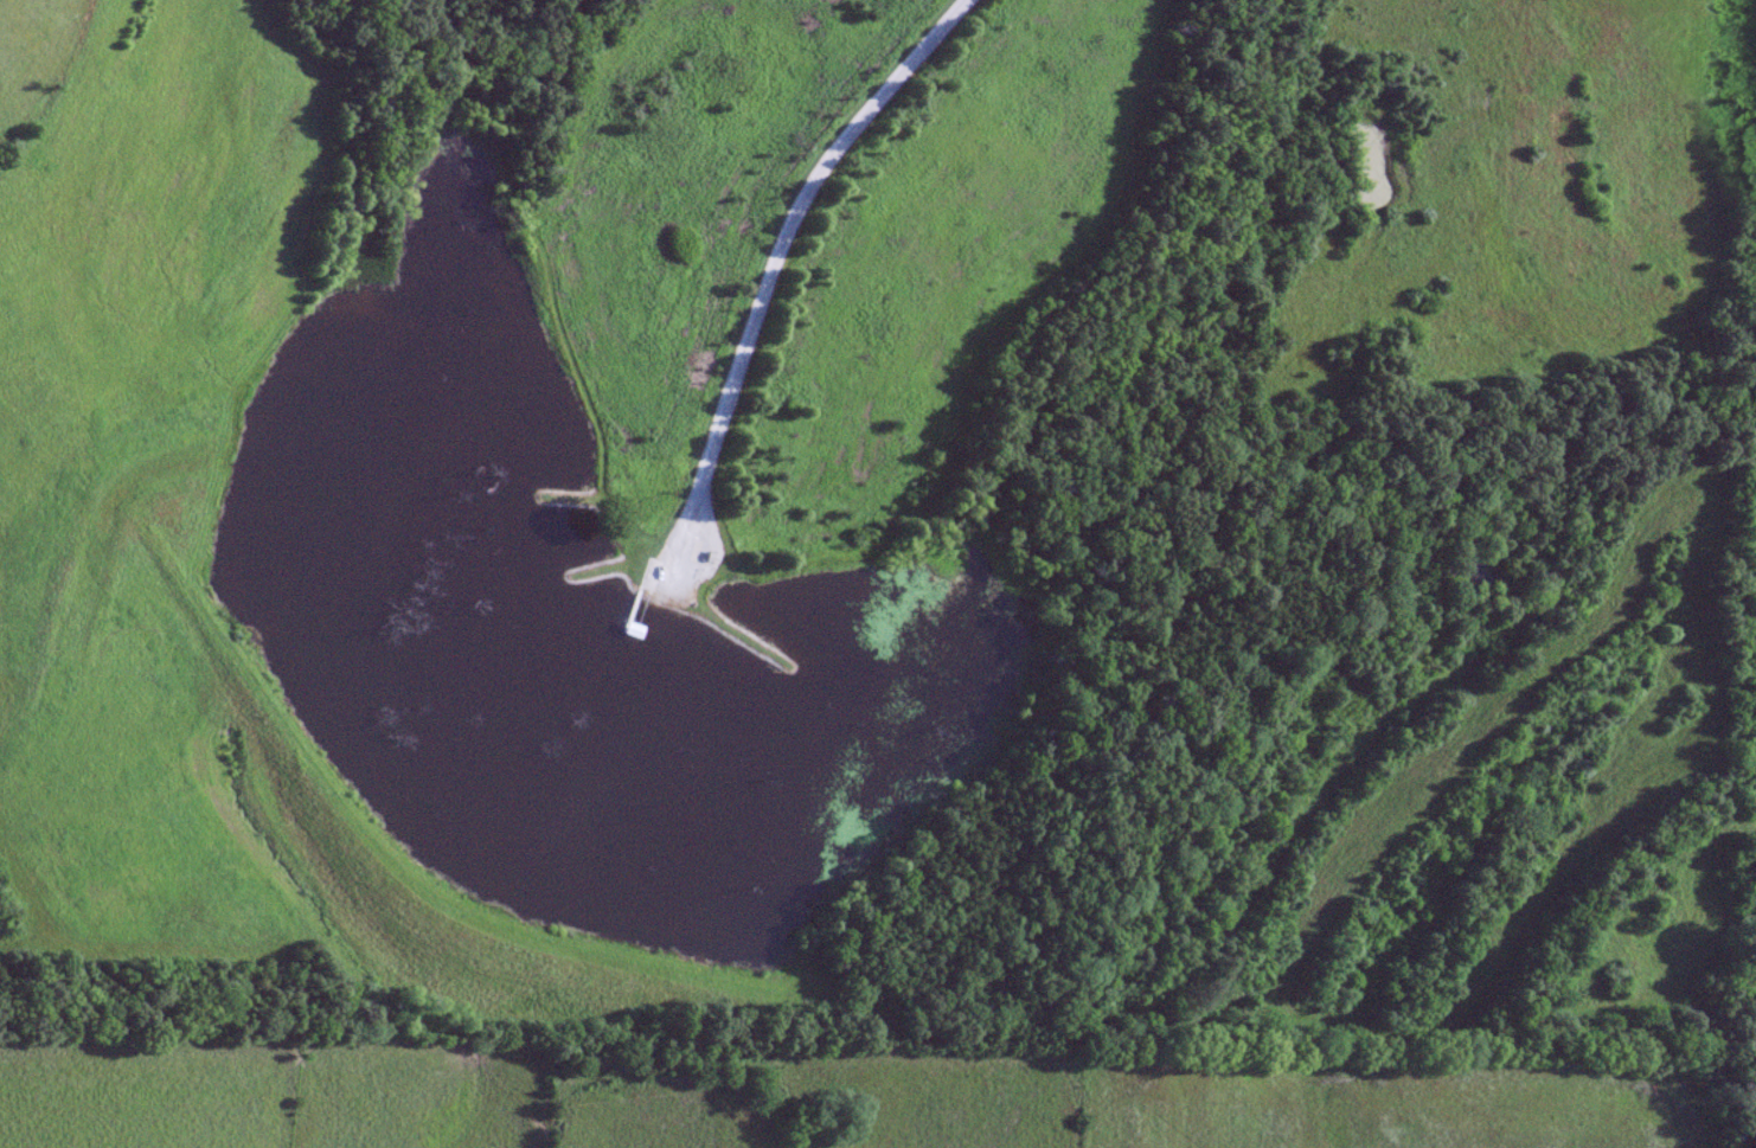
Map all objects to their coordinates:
road: (767, 275)
road: (1741, 1130)

